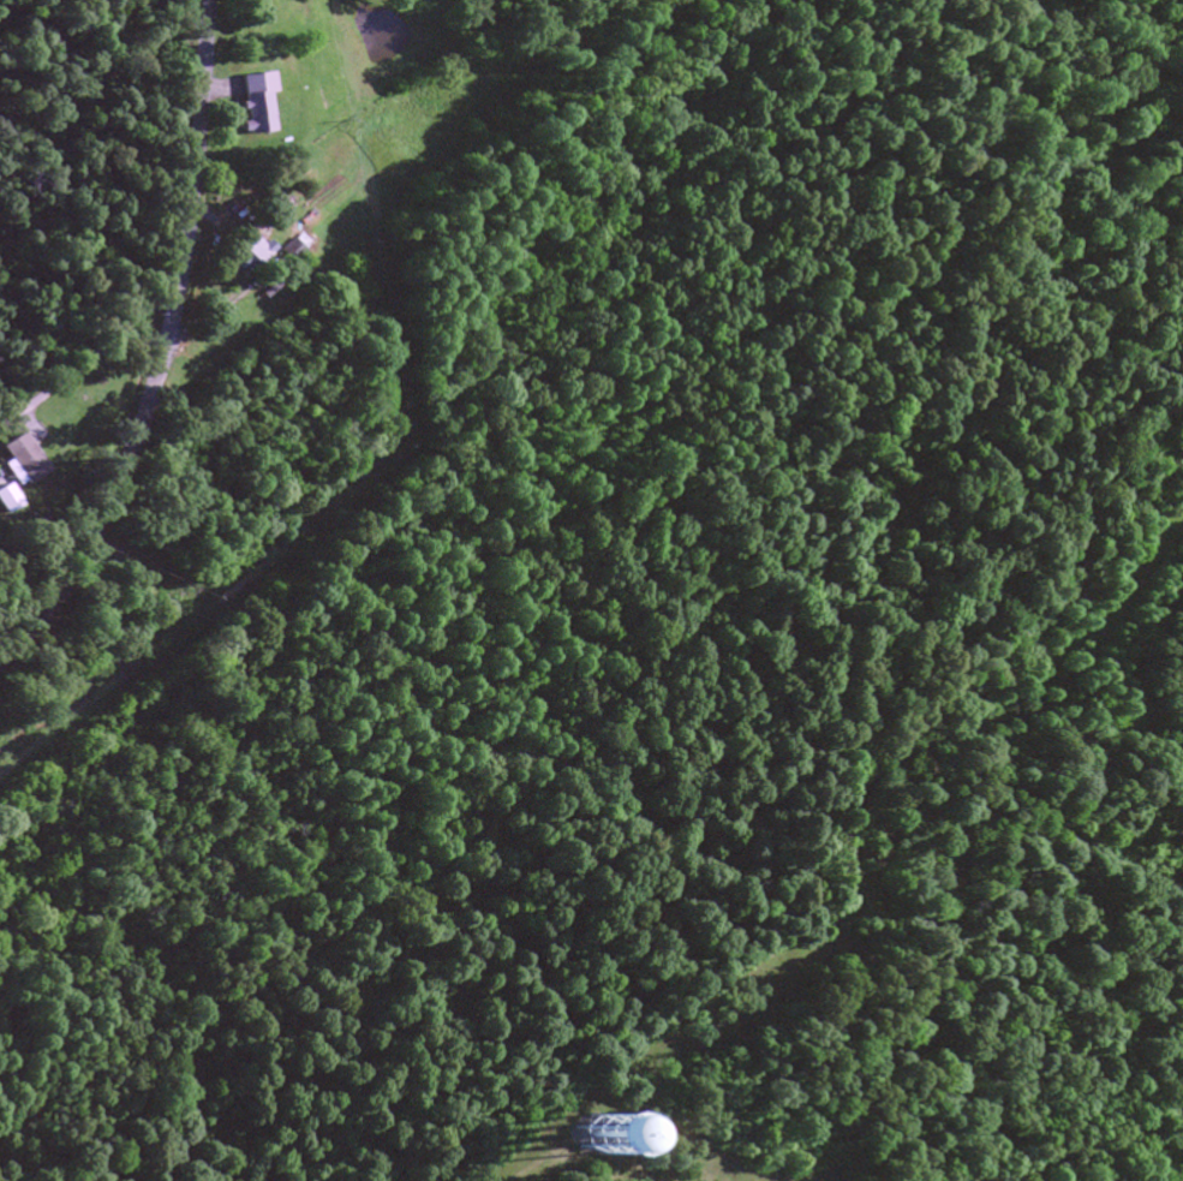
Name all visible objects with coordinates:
building: (249, 103)
building: (243, 254)
road: (161, 350)
road: (89, 359)
building: (16, 471)
road: (232, 569)
road: (34, 831)
water tower: (585, 1132)
water tower: (611, 1135)
building: (574, 1140)
road: (524, 1176)

